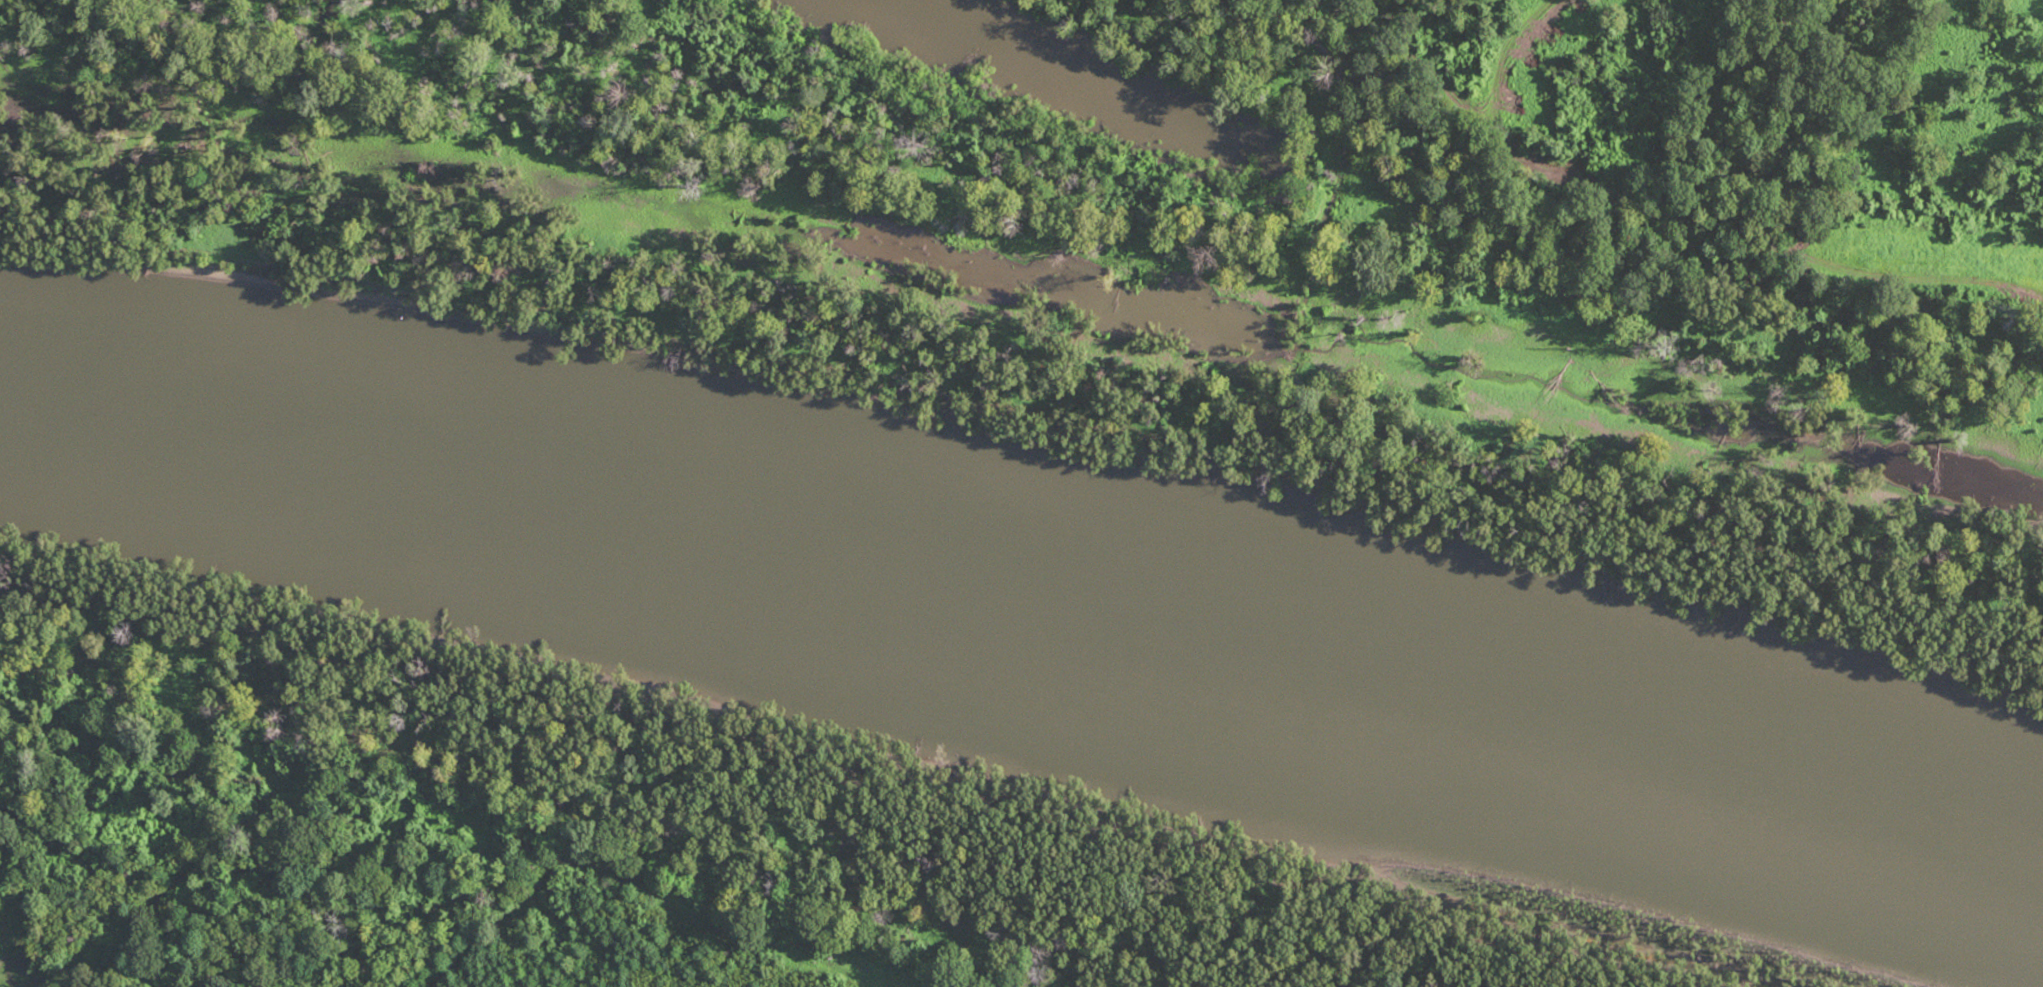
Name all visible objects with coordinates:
road: (1499, 104)
road: (1747, 235)
river: (1025, 701)

